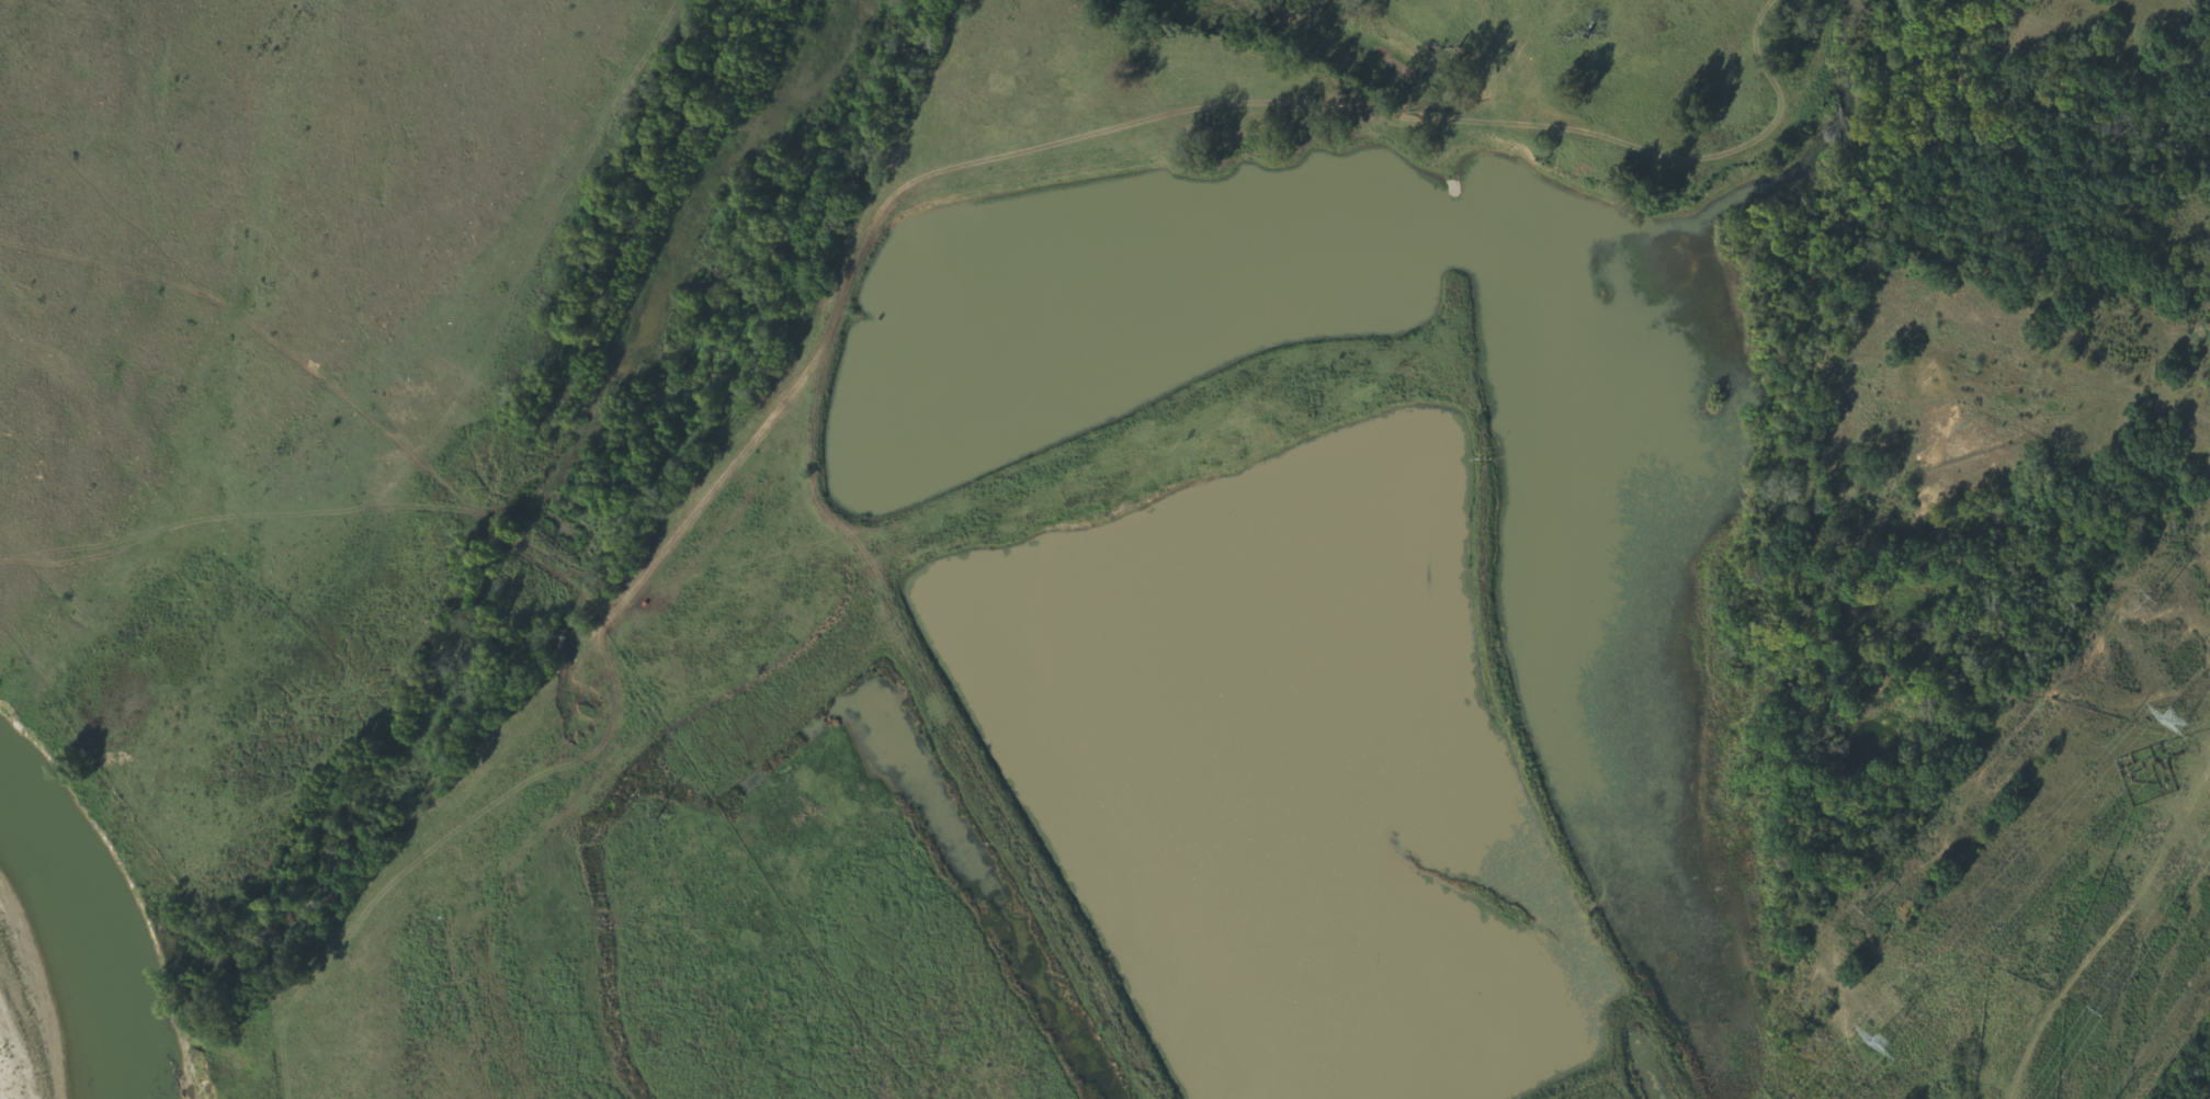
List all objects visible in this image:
power tower: (2156, 592)
power tower: (2181, 721)
power tower: (1868, 911)
power tower: (2098, 1010)
power tower: (1883, 1040)

